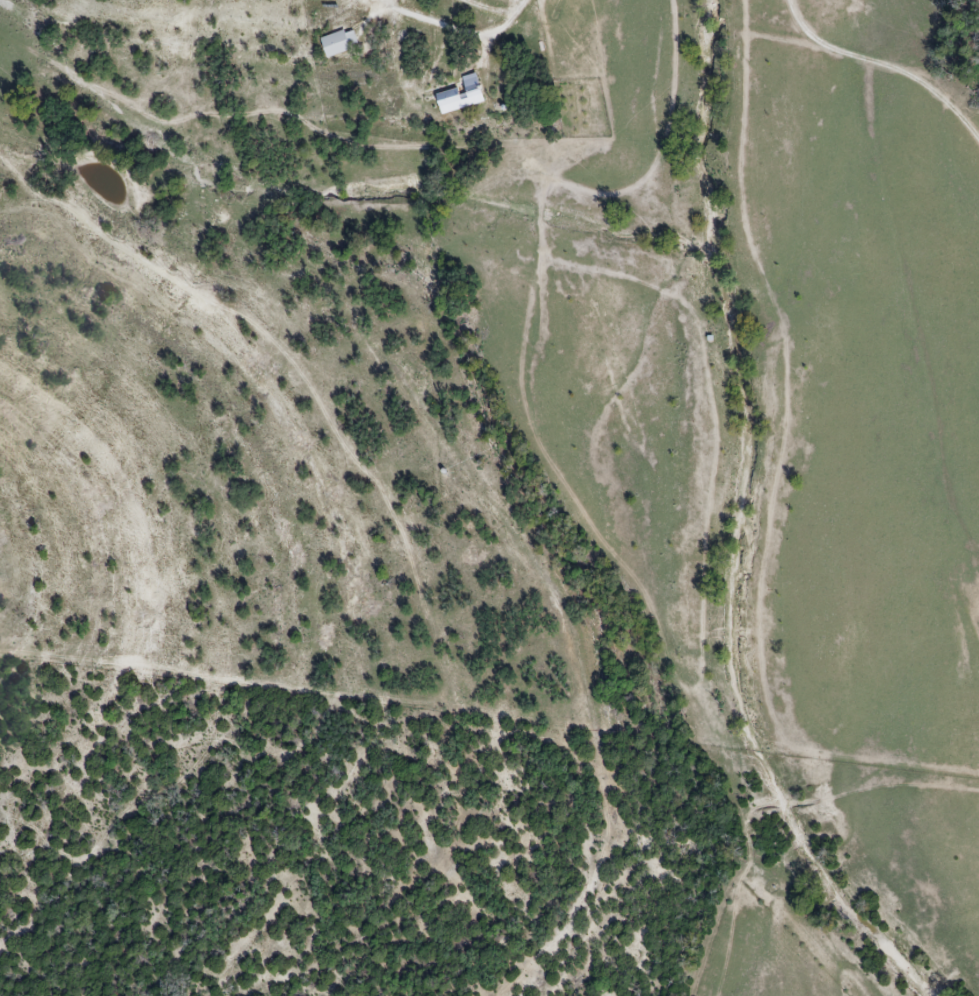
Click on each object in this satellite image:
road: (464, 31)
building: (337, 43)
road: (885, 65)
building: (460, 95)

